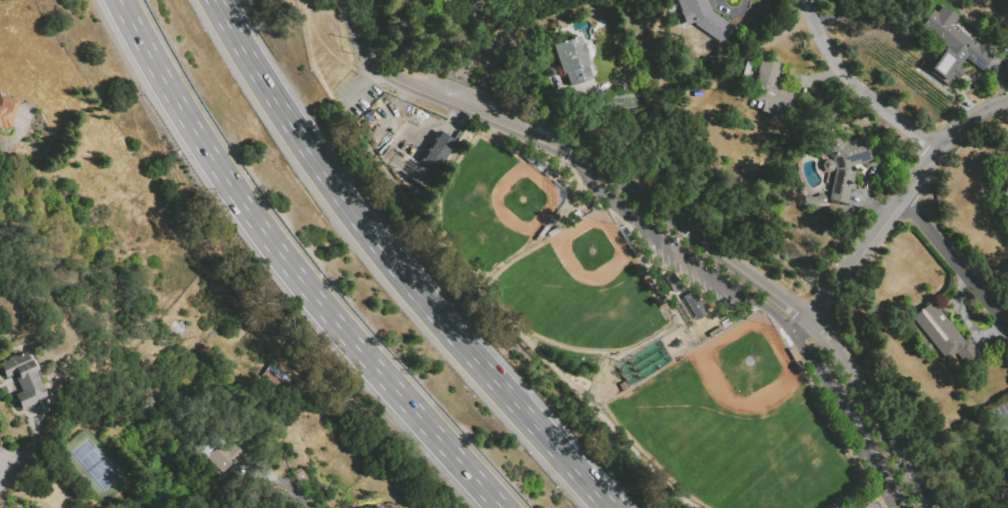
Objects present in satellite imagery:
road: (730, 11)
road: (846, 13)
building: (704, 18)
road: (333, 32)
building: (953, 36)
building: (572, 61)
building: (770, 89)
road: (558, 90)
road: (854, 92)
road: (550, 109)
building: (7, 111)
road: (541, 131)
building: (430, 159)
building: (844, 161)
road: (586, 172)
building: (812, 199)
park: (526, 200)
road: (898, 205)
road: (620, 209)
road: (665, 214)
park: (592, 248)
parking lot: (684, 261)
road: (955, 262)
road: (396, 266)
road: (293, 268)
road: (459, 279)
building: (672, 283)
road: (723, 289)
building: (694, 305)
road: (967, 319)
building: (174, 326)
building: (944, 335)
park: (645, 337)
park: (747, 364)
building: (278, 379)
building: (27, 380)
road: (842, 414)
parking lot: (1002, 416)
road: (1005, 427)
parking lot: (862, 430)
road: (1005, 433)
building: (216, 450)
parking lot: (1007, 472)
building: (379, 506)
building: (377, 507)
building: (394, 507)

